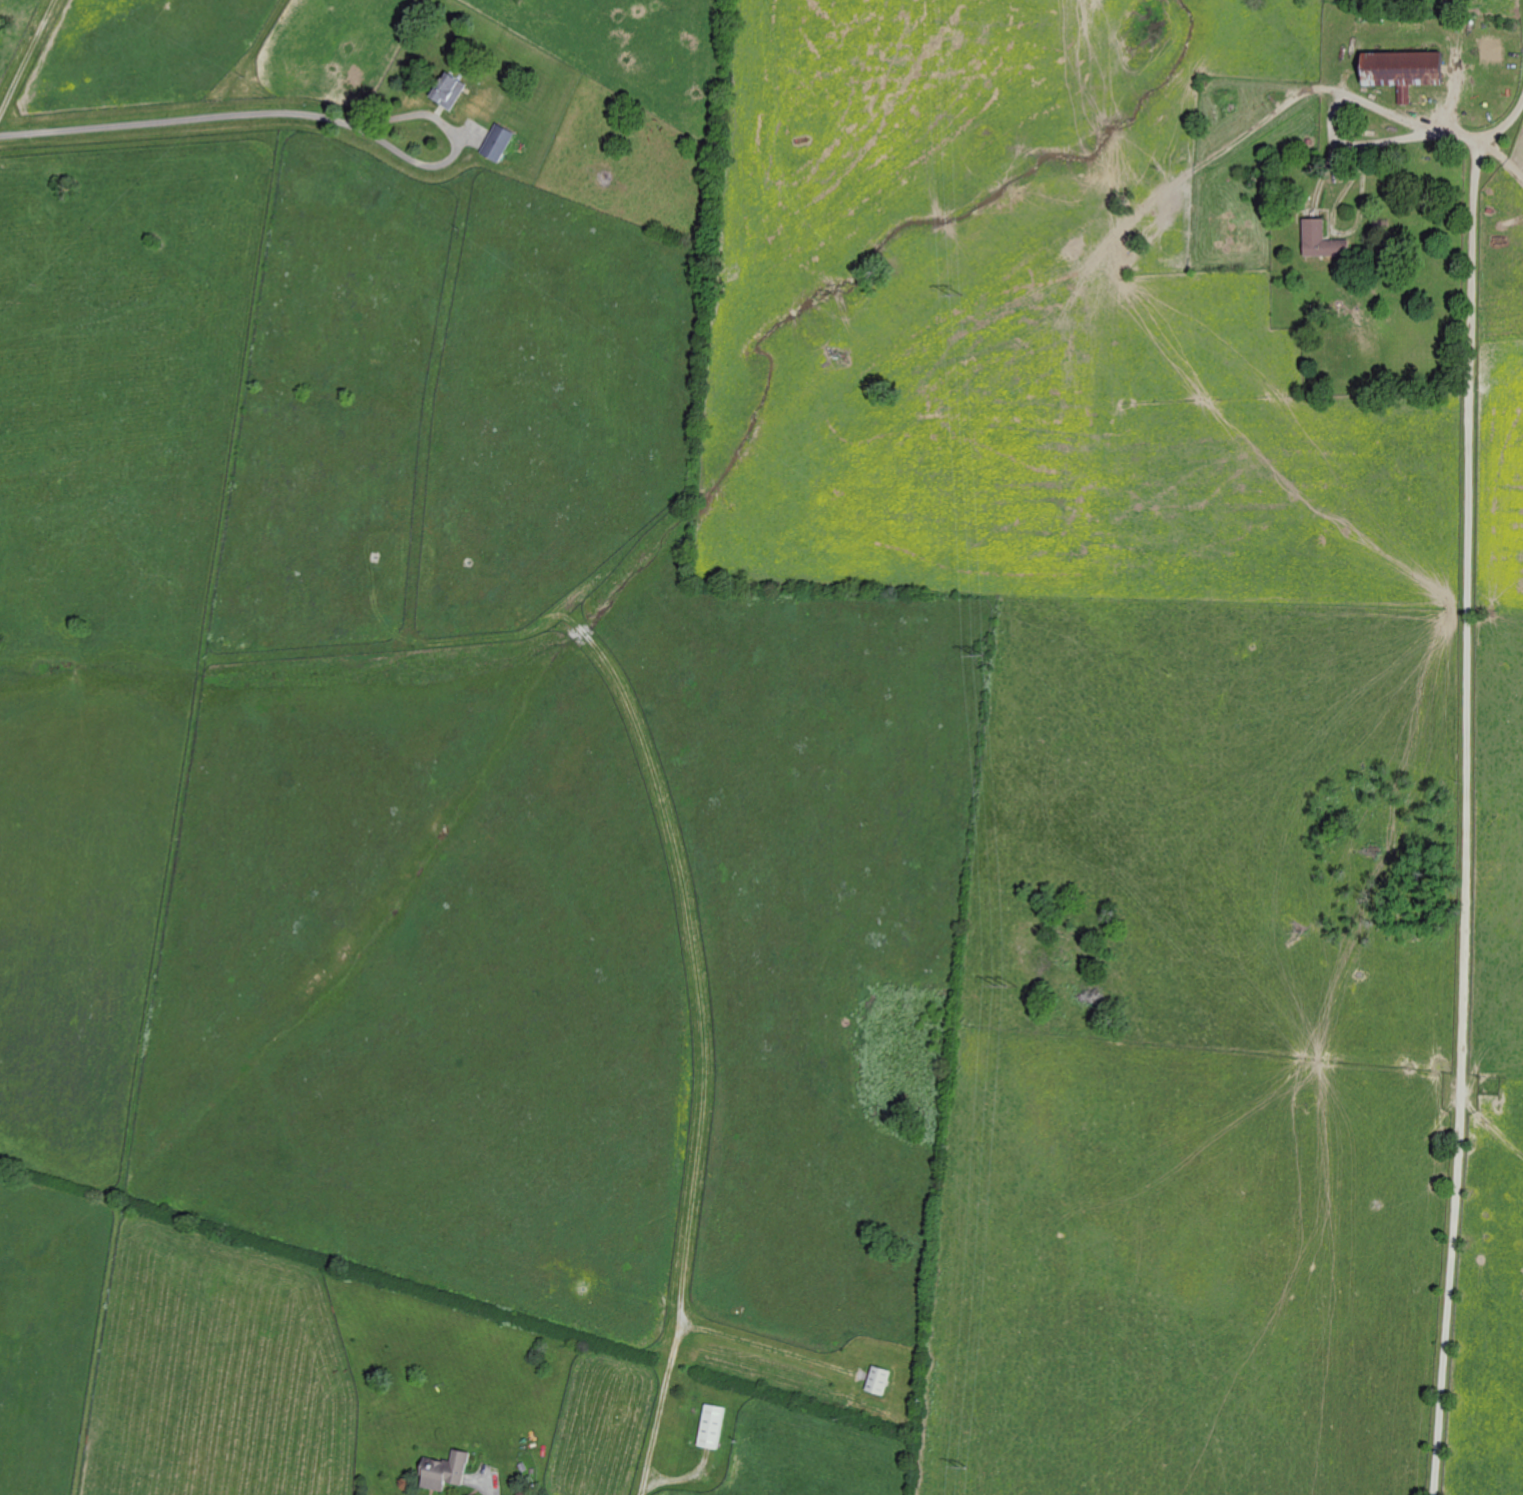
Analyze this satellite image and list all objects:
road: (28, 60)
building: (1394, 70)
road: (182, 120)
road: (1330, 121)
road: (1502, 131)
road: (456, 147)
building: (1318, 241)
road: (1464, 796)
building: (451, 1474)
road: (664, 1481)
road: (492, 1489)

